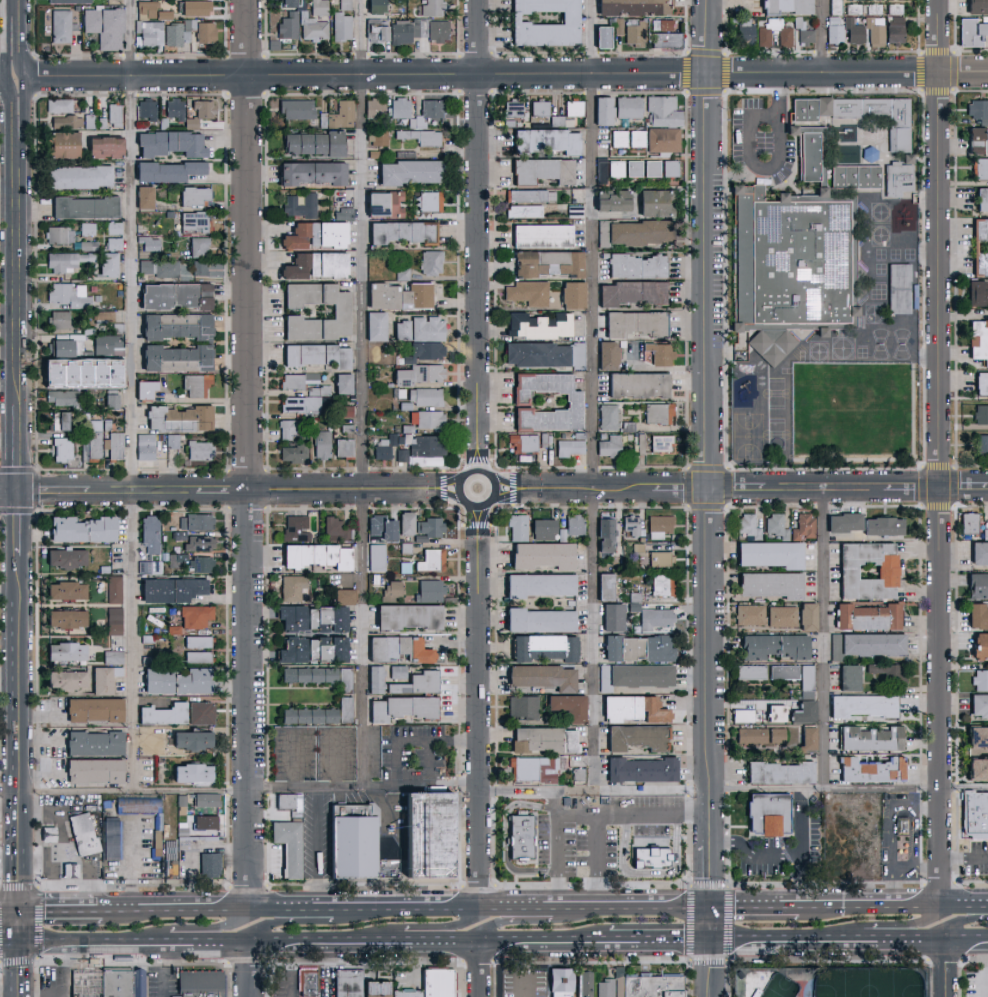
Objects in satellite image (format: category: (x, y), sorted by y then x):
building: (68, 1)
building: (286, 3)
building: (786, 6)
road: (9, 7)
building: (318, 7)
building: (374, 7)
building: (632, 7)
building: (835, 7)
building: (977, 7)
building: (194, 8)
building: (431, 8)
building: (145, 9)
building: (894, 9)
building: (163, 15)
building: (542, 22)
building: (60, 25)
building: (287, 26)
building: (341, 26)
building: (617, 26)
building: (103, 27)
building: (312, 28)
building: (429, 29)
building: (894, 29)
building: (375, 30)
building: (853, 30)
building: (632, 31)
building: (803, 31)
building: (834, 31)
building: (149, 32)
building: (188, 32)
building: (744, 32)
building: (971, 32)
building: (399, 33)
building: (876, 35)
building: (785, 37)
road: (822, 37)
building: (599, 38)
road: (24, 39)
building: (671, 41)
road: (10, 47)
road: (15, 62)
road: (506, 76)
road: (5, 79)
building: (57, 104)
building: (627, 106)
building: (173, 107)
building: (374, 107)
building: (399, 107)
building: (431, 107)
building: (538, 107)
building: (572, 107)
building: (808, 107)
building: (296, 108)
building: (512, 108)
building: (145, 109)
building: (601, 109)
building: (978, 109)
road: (25, 110)
building: (661, 110)
building: (198, 112)
building: (113, 114)
building: (338, 114)
road: (15, 116)
building: (66, 120)
building: (419, 136)
building: (376, 137)
building: (636, 137)
parking lot: (762, 137)
building: (979, 137)
building: (618, 138)
building: (662, 138)
building: (546, 139)
building: (169, 142)
building: (311, 142)
building: (61, 143)
building: (101, 146)
building: (818, 149)
road: (189, 160)
building: (615, 167)
building: (632, 167)
building: (650, 167)
building: (669, 167)
building: (981, 167)
building: (540, 169)
road: (768, 169)
building: (165, 170)
building: (409, 170)
building: (600, 170)
building: (309, 171)
building: (77, 175)
building: (193, 194)
building: (530, 195)
building: (142, 196)
building: (981, 198)
building: (428, 200)
building: (610, 201)
building: (651, 201)
building: (381, 202)
building: (299, 205)
building: (82, 206)
building: (522, 210)
building: (573, 210)
building: (193, 220)
building: (112, 227)
building: (980, 228)
building: (400, 230)
building: (639, 231)
building: (58, 234)
building: (314, 234)
road: (477, 234)
building: (540, 235)
road: (11, 241)
building: (112, 242)
building: (148, 243)
building: (87, 245)
building: (197, 246)
building: (66, 260)
building: (430, 261)
building: (546, 262)
building: (980, 263)
building: (105, 264)
building: (313, 264)
building: (144, 265)
building: (631, 265)
building: (193, 267)
building: (165, 268)
road: (25, 272)
building: (800, 275)
building: (897, 288)
building: (629, 291)
building: (977, 291)
building: (528, 292)
building: (68, 294)
building: (189, 294)
building: (571, 294)
building: (152, 295)
building: (398, 295)
building: (907, 297)
building: (338, 310)
building: (57, 319)
building: (633, 322)
building: (173, 325)
building: (374, 325)
building: (537, 325)
building: (426, 328)
building: (400, 329)
building: (978, 339)
building: (105, 344)
building: (59, 347)
building: (426, 350)
building: (659, 352)
building: (535, 353)
building: (314, 354)
building: (605, 354)
building: (577, 355)
building: (173, 357)
building: (112, 366)
building: (58, 372)
building: (427, 372)
building: (400, 377)
building: (980, 381)
building: (341, 382)
building: (195, 384)
building: (636, 384)
building: (144, 388)
building: (303, 393)
road: (364, 393)
road: (133, 394)
building: (423, 395)
road: (594, 395)
building: (61, 396)
building: (572, 397)
building: (110, 400)
building: (657, 412)
building: (981, 413)
park: (854, 414)
building: (607, 416)
building: (177, 417)
building: (59, 419)
building: (287, 429)
building: (91, 439)
building: (171, 440)
building: (522, 442)
building: (659, 442)
building: (981, 443)
building: (321, 444)
building: (115, 445)
building: (144, 445)
building: (342, 446)
building: (608, 446)
road: (20, 447)
building: (568, 447)
building: (61, 448)
building: (382, 448)
building: (199, 450)
building: (422, 451)
building: (293, 453)
road: (938, 453)
road: (711, 454)
road: (247, 455)
road: (458, 480)
road: (740, 489)
road: (10, 493)
road: (239, 493)
building: (194, 521)
building: (842, 521)
building: (403, 522)
building: (968, 522)
building: (630, 524)
road: (20, 525)
building: (572, 525)
building: (658, 525)
building: (747, 525)
building: (775, 525)
building: (881, 525)
building: (380, 526)
building: (428, 526)
building: (802, 526)
building: (516, 527)
building: (79, 528)
building: (295, 528)
building: (541, 528)
building: (335, 529)
building: (603, 533)
building: (178, 534)
building: (148, 535)
building: (198, 543)
building: (768, 553)
building: (978, 553)
building: (541, 554)
building: (315, 555)
building: (63, 557)
building: (375, 557)
building: (659, 557)
building: (430, 559)
building: (200, 564)
building: (866, 570)
building: (538, 584)
building: (661, 584)
building: (770, 584)
building: (977, 584)
building: (603, 586)
building: (291, 587)
building: (113, 588)
building: (63, 589)
building: (172, 589)
building: (390, 589)
road: (10, 590)
building: (428, 590)
building: (343, 595)
building: (749, 614)
building: (405, 615)
building: (976, 615)
building: (194, 616)
building: (610, 616)
building: (781, 616)
building: (806, 616)
building: (866, 616)
building: (311, 617)
building: (63, 618)
building: (654, 618)
building: (113, 620)
road: (826, 638)
building: (196, 641)
building: (865, 644)
building: (771, 645)
building: (979, 645)
building: (543, 647)
building: (636, 647)
building: (397, 648)
building: (311, 649)
building: (63, 651)
building: (111, 656)
building: (196, 656)
building: (396, 671)
building: (749, 671)
building: (782, 671)
building: (885, 671)
building: (308, 674)
building: (633, 675)
building: (541, 676)
building: (847, 677)
building: (374, 678)
building: (64, 679)
building: (980, 679)
building: (99, 680)
building: (175, 681)
building: (806, 681)
building: (414, 683)
road: (480, 705)
building: (861, 705)
building: (978, 705)
building: (522, 706)
building: (567, 706)
building: (398, 707)
building: (632, 708)
building: (91, 709)
building: (345, 709)
building: (803, 711)
road: (43, 712)
building: (200, 712)
building: (162, 714)
building: (308, 715)
building: (776, 734)
road: (22, 735)
building: (750, 735)
building: (636, 736)
building: (976, 736)
road: (44, 737)
building: (534, 738)
building: (868, 738)
building: (188, 739)
building: (806, 739)
road: (424, 740)
building: (568, 740)
building: (92, 743)
road: (430, 752)
road: (295, 757)
road: (335, 757)
building: (976, 767)
building: (534, 769)
building: (640, 769)
building: (870, 769)
building: (91, 770)
road: (45, 772)
building: (188, 772)
building: (778, 772)
road: (299, 787)
road: (793, 788)
building: (205, 799)
building: (287, 801)
building: (141, 805)
road: (910, 806)
road: (836, 808)
road: (597, 812)
building: (774, 812)
building: (972, 816)
building: (204, 822)
building: (46, 833)
building: (437, 835)
building: (519, 836)
building: (87, 837)
building: (349, 839)
building: (113, 843)
building: (155, 844)
building: (286, 845)
road: (319, 848)
building: (657, 849)
building: (524, 854)
building: (837, 857)
road: (966, 857)
road: (557, 859)
road: (602, 860)
road: (131, 865)
building: (205, 865)
road: (927, 872)
road: (892, 891)
road: (967, 907)
road: (409, 908)
road: (757, 908)
road: (873, 908)
road: (64, 912)
road: (12, 913)
road: (526, 922)
road: (961, 922)
road: (301, 923)
road: (890, 925)
road: (714, 926)
road: (425, 928)
road: (24, 930)
road: (199, 930)
road: (830, 941)
road: (967, 942)
road: (660, 944)
road: (315, 945)
road: (12, 947)
road: (947, 969)
road: (987, 969)
road: (482, 970)
road: (526, 970)
road: (713, 970)
road: (166, 971)
road: (250, 971)
road: (291, 971)
road: (24, 972)
building: (617, 973)
building: (347, 982)
building: (435, 982)
building: (126, 983)
building: (310, 983)
building: (565, 983)
building: (588, 983)
park: (867, 983)
building: (203, 984)
building: (644, 986)
park: (779, 987)
building: (746, 988)
building: (374, 989)
building: (404, 993)
building: (758, 994)
road: (67, 996)

